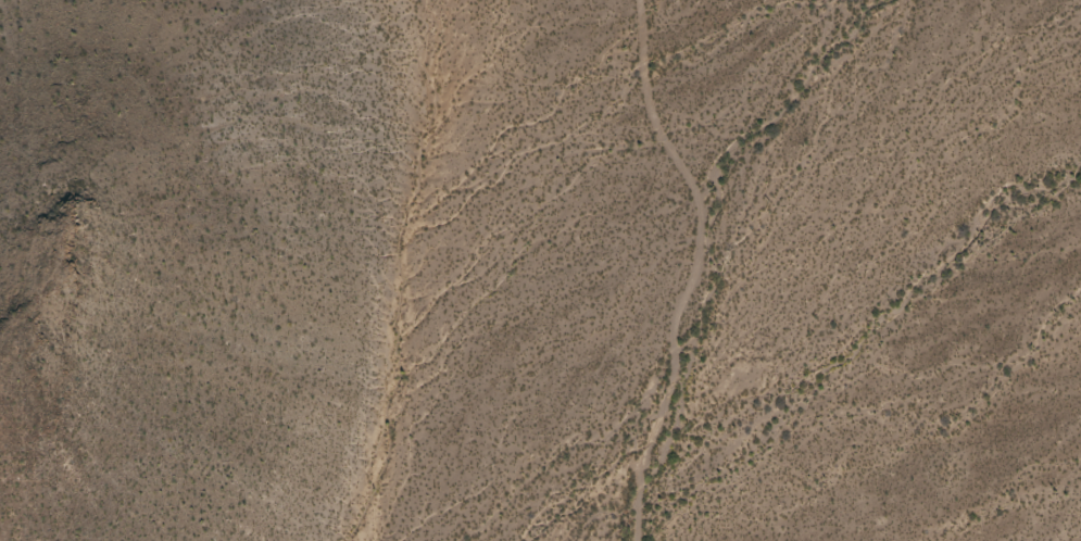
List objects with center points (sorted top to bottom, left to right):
road: (664, 270)

